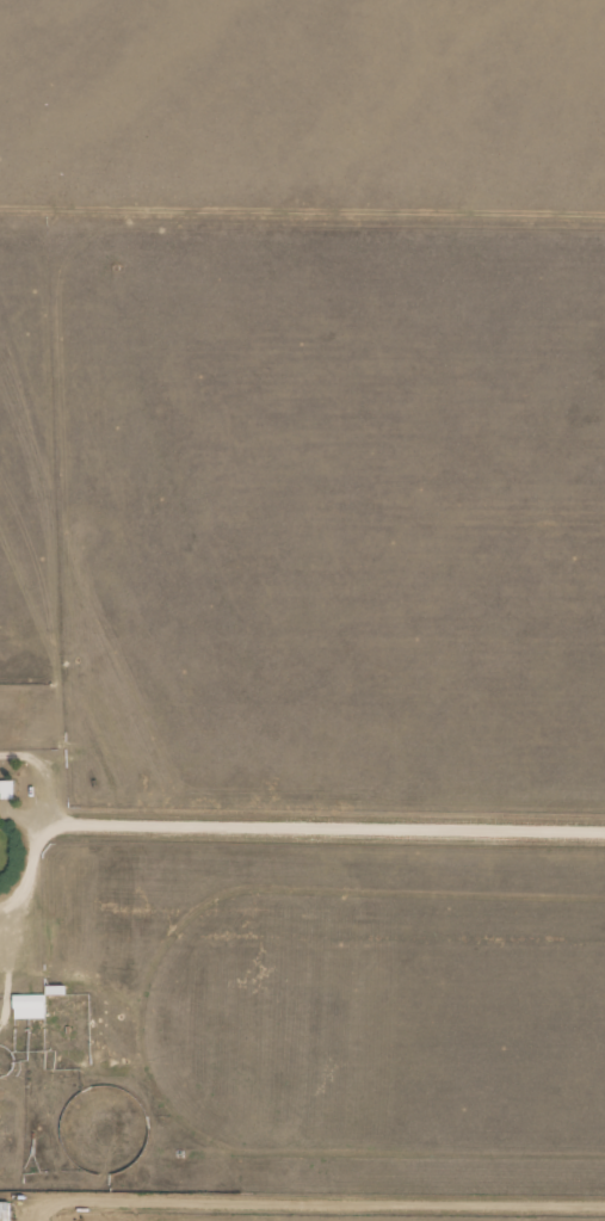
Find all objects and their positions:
road: (326, 831)
building: (27, 1007)
road: (307, 1197)
building: (4, 1211)

